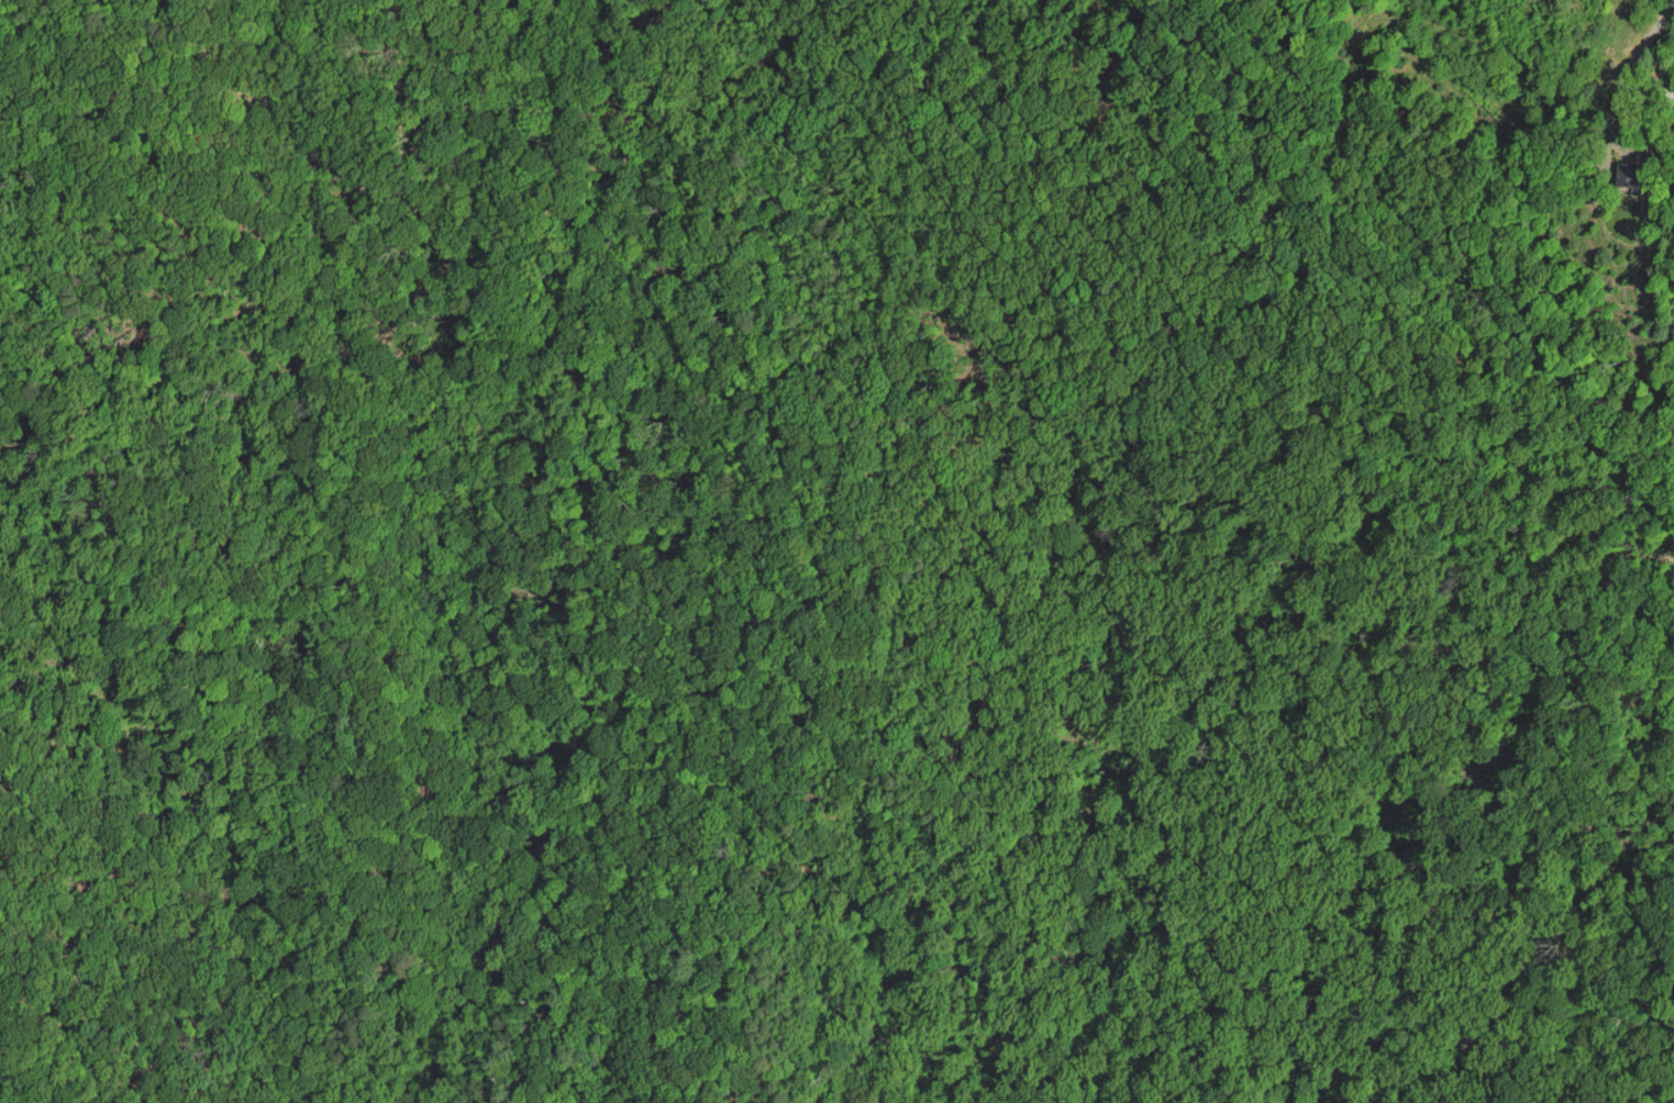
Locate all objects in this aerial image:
road: (1637, 54)
building: (1636, 174)

